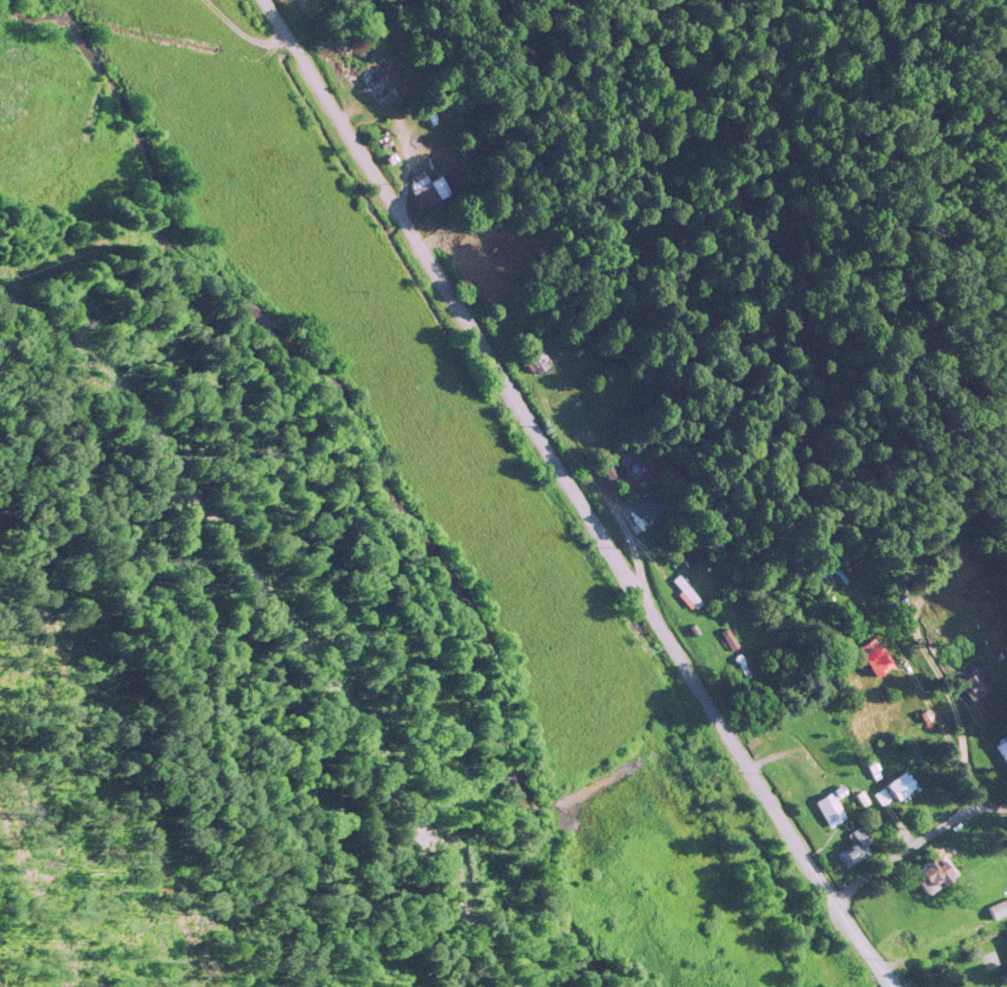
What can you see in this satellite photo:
road: (245, 33)
building: (377, 81)
road: (408, 165)
building: (424, 187)
building: (461, 255)
building: (537, 358)
building: (611, 468)
railway: (532, 489)
road: (573, 489)
building: (649, 510)
road: (620, 518)
building: (822, 577)
building: (690, 586)
railway: (190, 591)
railway: (292, 607)
road: (288, 612)
building: (724, 639)
building: (874, 654)
building: (972, 682)
road: (935, 714)
building: (901, 785)
building: (830, 805)
building: (854, 844)
road: (903, 848)
building: (928, 873)
building: (997, 907)
railway: (367, 919)
road: (890, 981)

